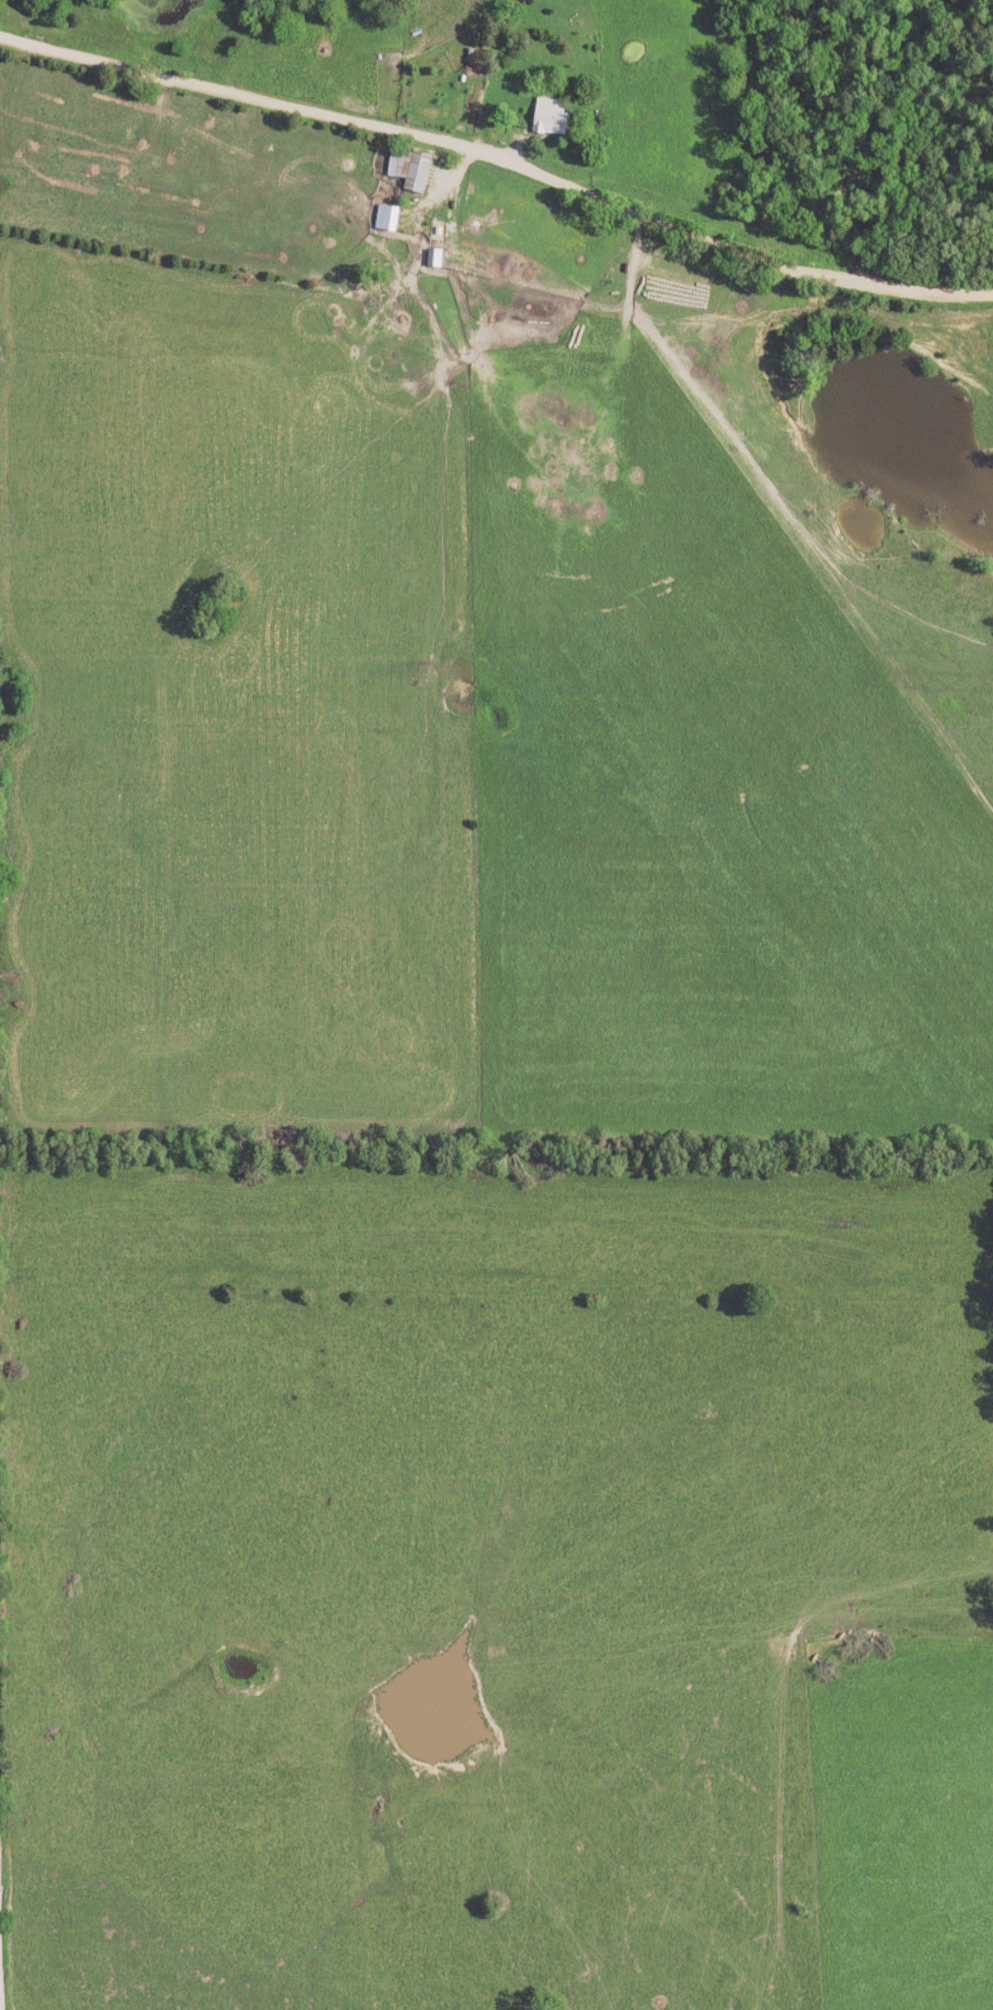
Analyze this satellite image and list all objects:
road: (503, 153)
building: (385, 218)

